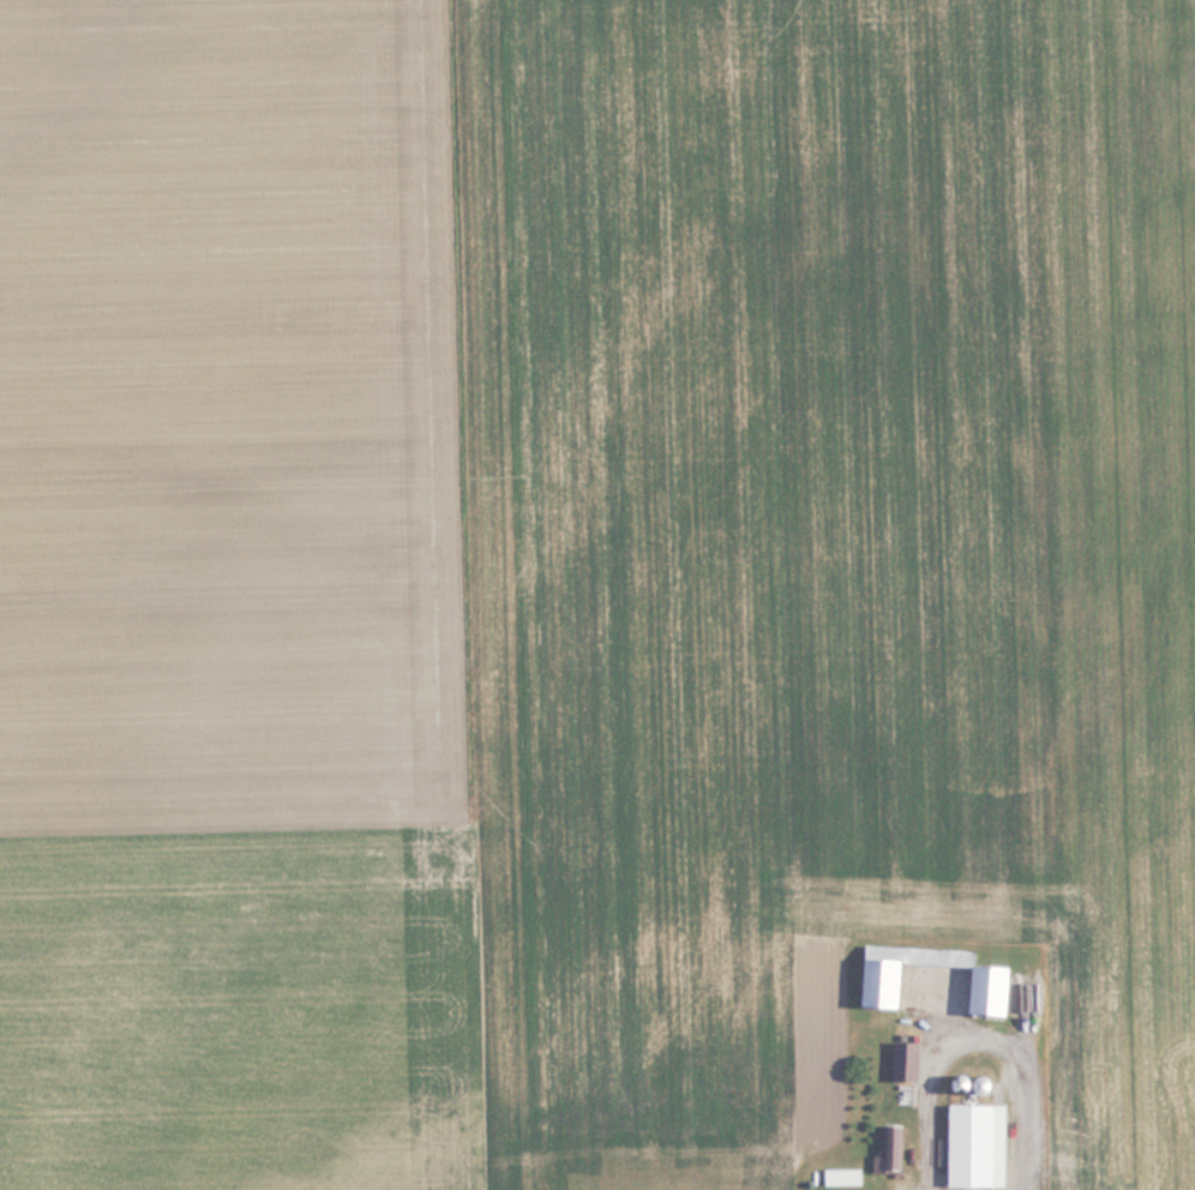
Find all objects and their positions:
building: (889, 985)
building: (909, 1060)
building: (971, 1084)
building: (975, 1144)
building: (895, 1153)
building: (846, 1177)

